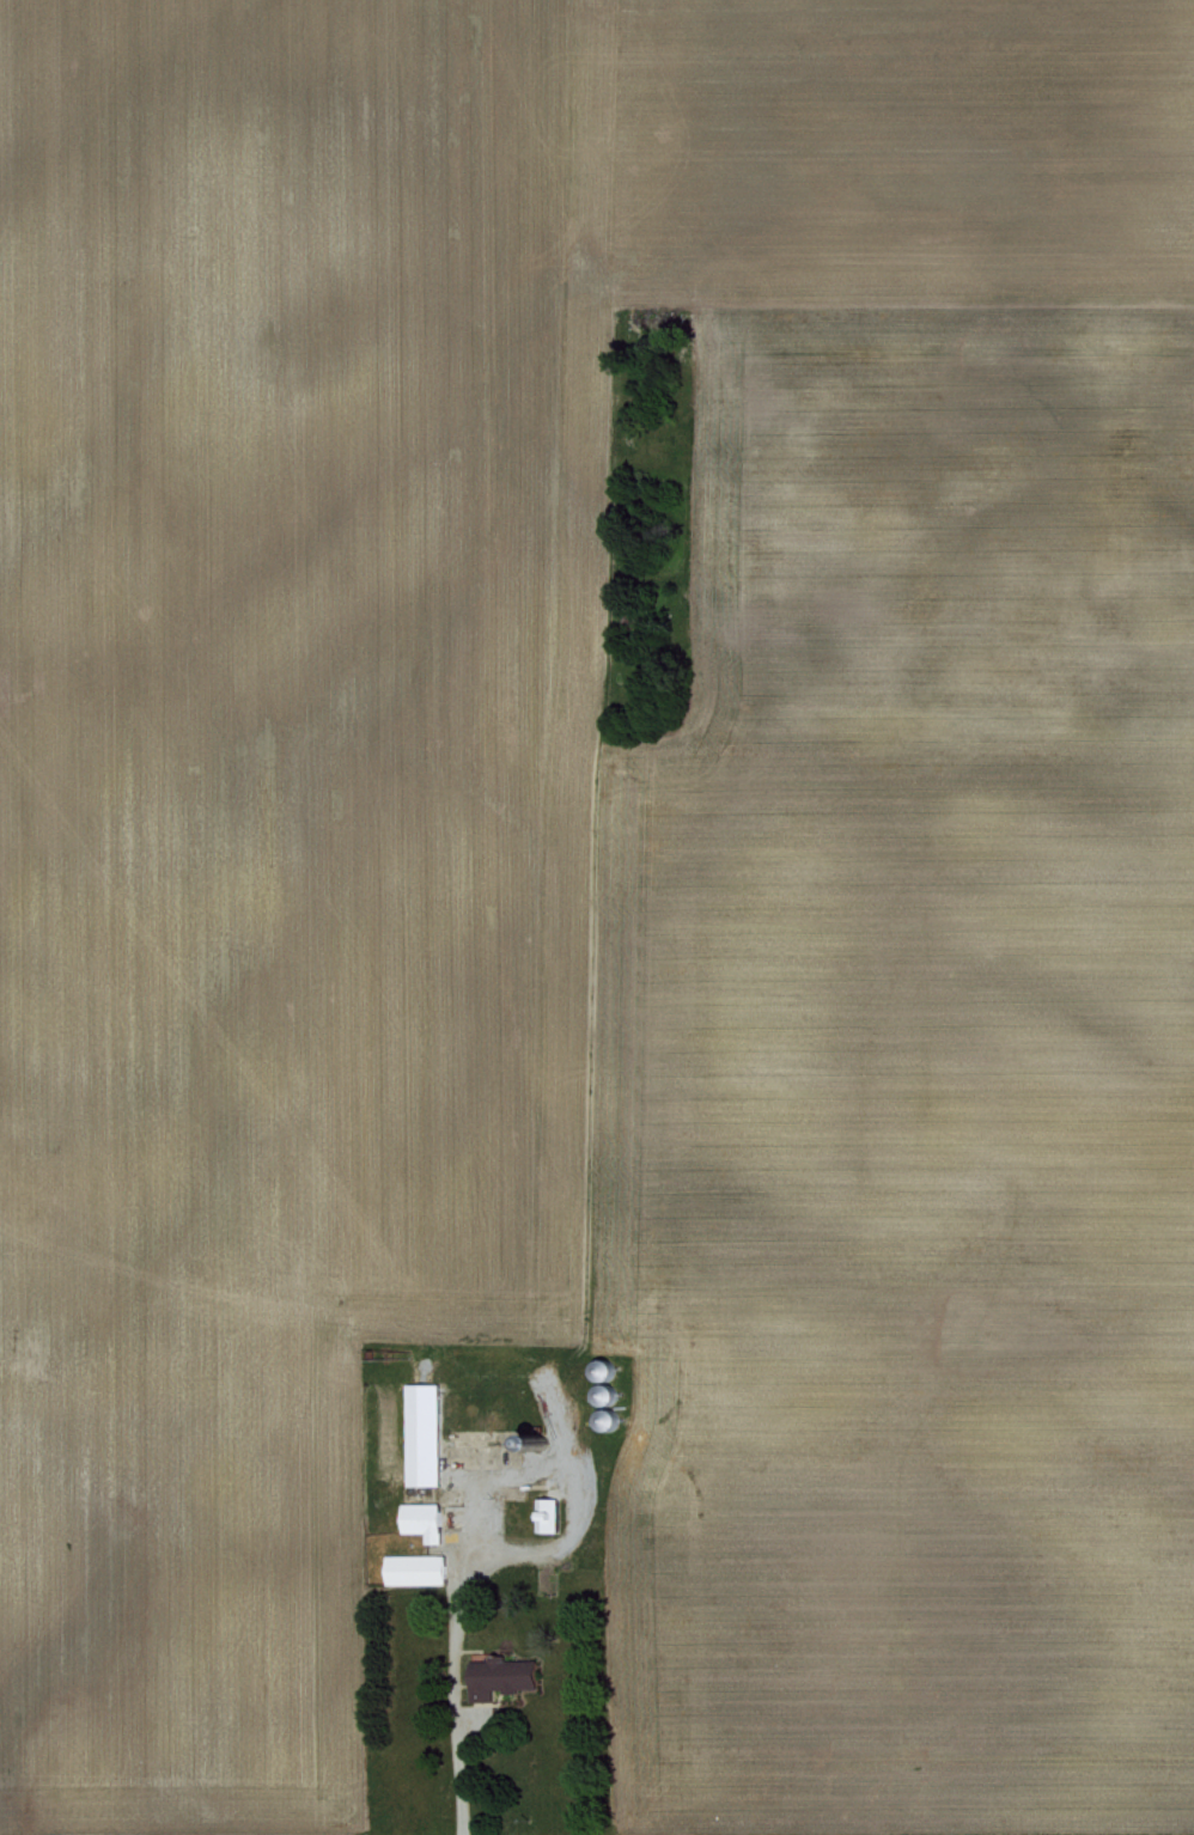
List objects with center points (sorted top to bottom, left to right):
building: (419, 1432)
road: (572, 1474)
building: (543, 1512)
building: (419, 1518)
building: (410, 1567)
building: (495, 1675)
road: (453, 1689)

